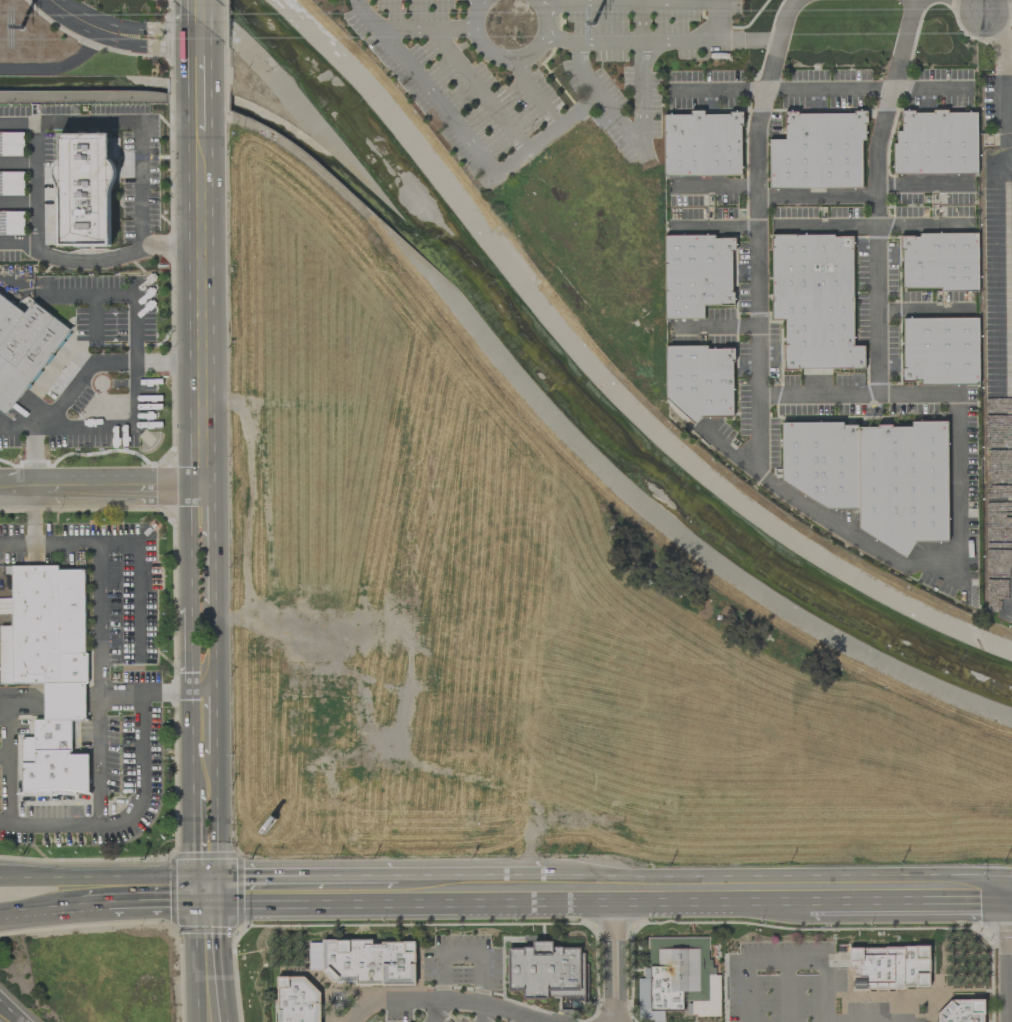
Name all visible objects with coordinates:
road: (629, 0)
road: (795, 1)
road: (984, 6)
road: (201, 12)
road: (716, 19)
road: (641, 20)
power tower: (593, 23)
road: (422, 27)
power tower: (17, 29)
road: (202, 32)
road: (123, 35)
road: (629, 40)
road: (203, 57)
road: (1006, 57)
road: (508, 62)
road: (57, 67)
road: (423, 88)
road: (479, 90)
road: (820, 90)
road: (1000, 94)
road: (533, 97)
road: (204, 102)
road: (628, 132)
road: (549, 134)
building: (936, 143)
building: (11, 144)
building: (702, 144)
building: (818, 151)
road: (36, 156)
building: (11, 183)
road: (922, 184)
building: (84, 189)
road: (818, 197)
road: (875, 197)
road: (759, 234)
road: (18, 241)
building: (939, 262)
building: (697, 274)
road: (134, 293)
building: (815, 300)
road: (204, 307)
road: (95, 315)
building: (24, 348)
building: (940, 350)
road: (81, 378)
building: (700, 381)
road: (816, 399)
road: (915, 399)
road: (8, 427)
road: (107, 427)
building: (874, 476)
road: (102, 488)
road: (957, 492)
road: (858, 529)
road: (16, 540)
road: (211, 545)
road: (194, 546)
road: (1009, 560)
road: (139, 581)
road: (99, 616)
road: (214, 650)
road: (192, 651)
building: (49, 670)
road: (5, 699)
road: (5, 707)
road: (215, 724)
road: (193, 745)
road: (3, 758)
road: (99, 759)
road: (4, 822)
road: (217, 823)
road: (71, 824)
road: (196, 844)
road: (100, 877)
traffic signals: (197, 893)
road: (208, 893)
traffic signals: (219, 893)
road: (308, 894)
road: (471, 895)
road: (676, 897)
road: (910, 898)
road: (154, 904)
road: (96, 907)
road: (40, 911)
road: (462, 953)
road: (195, 957)
road: (220, 957)
road: (613, 959)
building: (364, 961)
road: (787, 963)
building: (889, 967)
building: (545, 973)
building: (680, 976)
road: (787, 992)
road: (453, 998)
building: (297, 999)
road: (11, 1009)
road: (358, 1011)
road: (438, 1011)
building: (964, 1012)
road: (484, 1013)
parking lot: (427, 1016)
road: (23, 1021)
road: (865, 1021)

